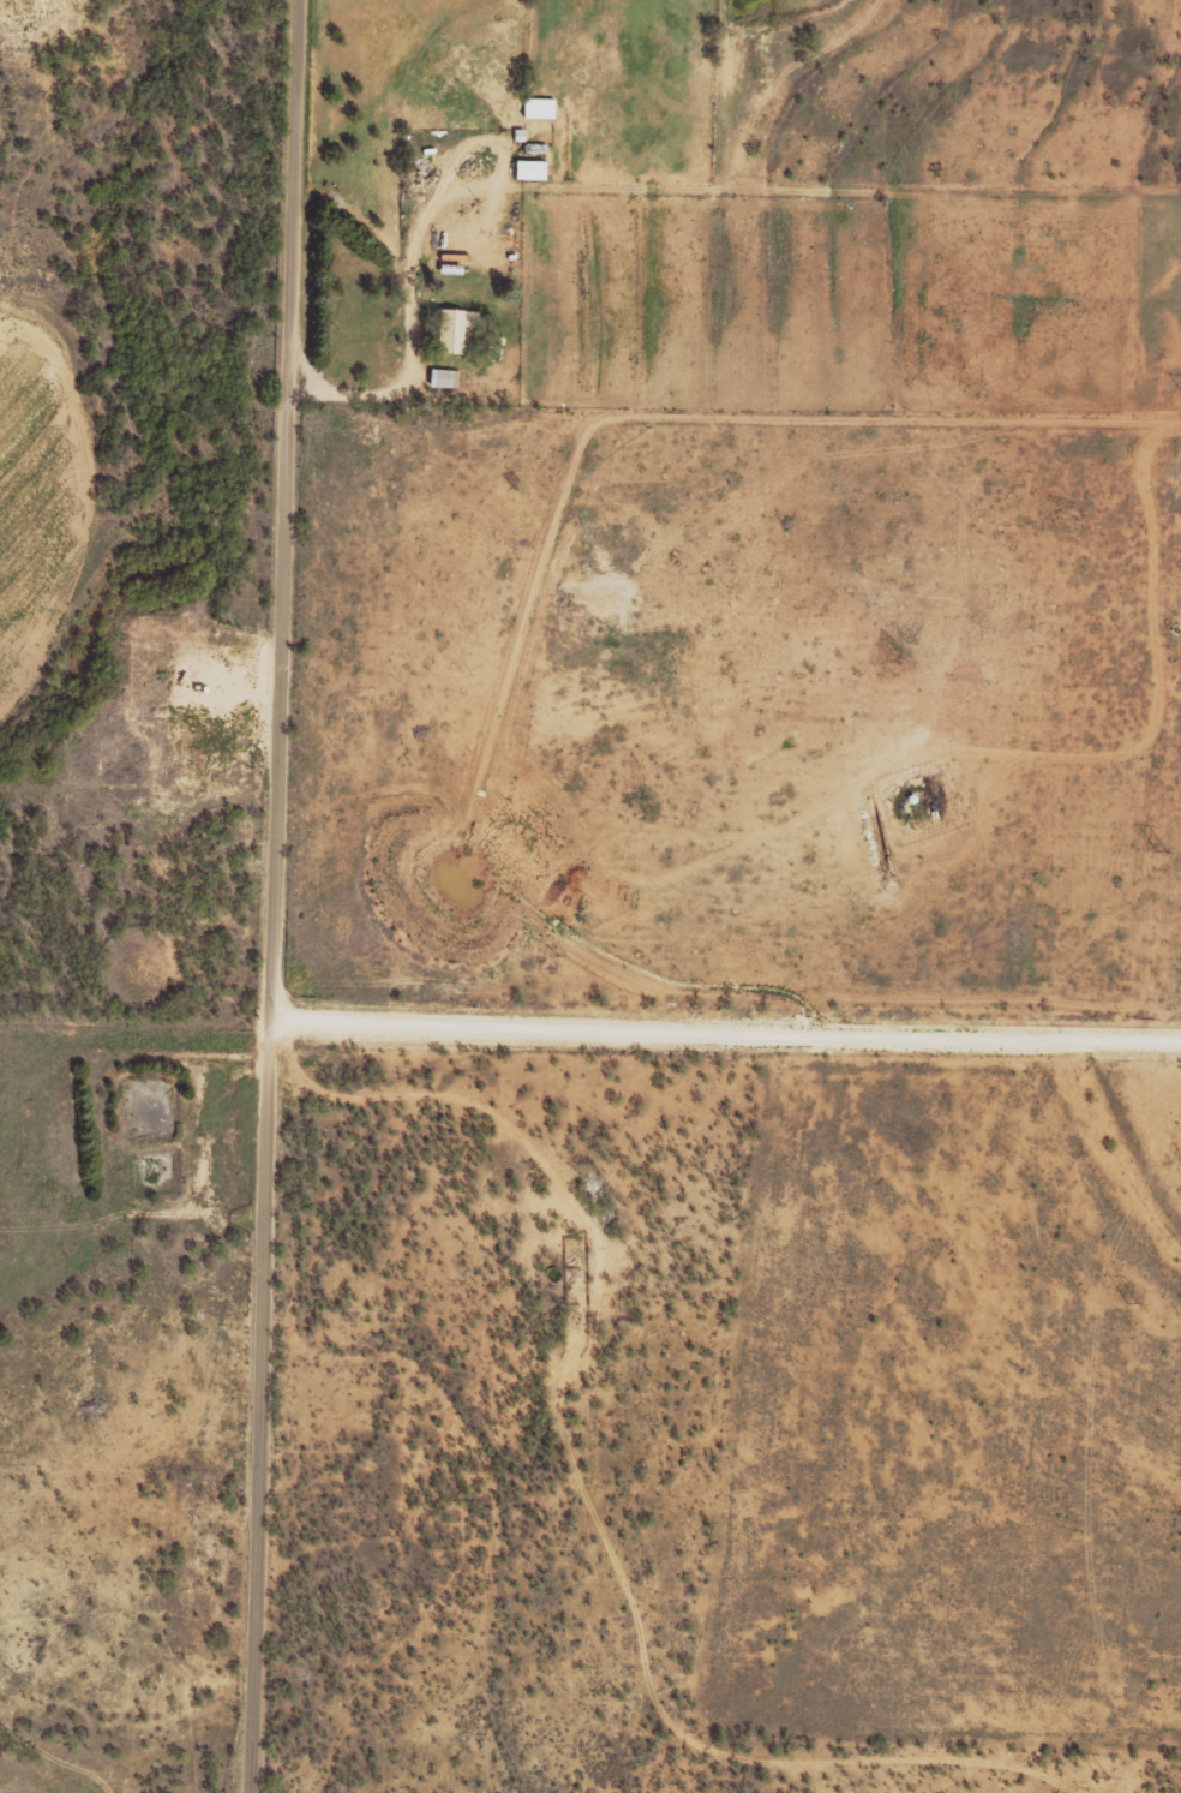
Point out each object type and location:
building: (535, 107)
building: (451, 328)
building: (440, 378)
power tower: (1161, 851)
road: (278, 896)
road: (729, 1026)
power tower: (1132, 1307)
road: (575, 1368)
power tower: (1101, 1780)

